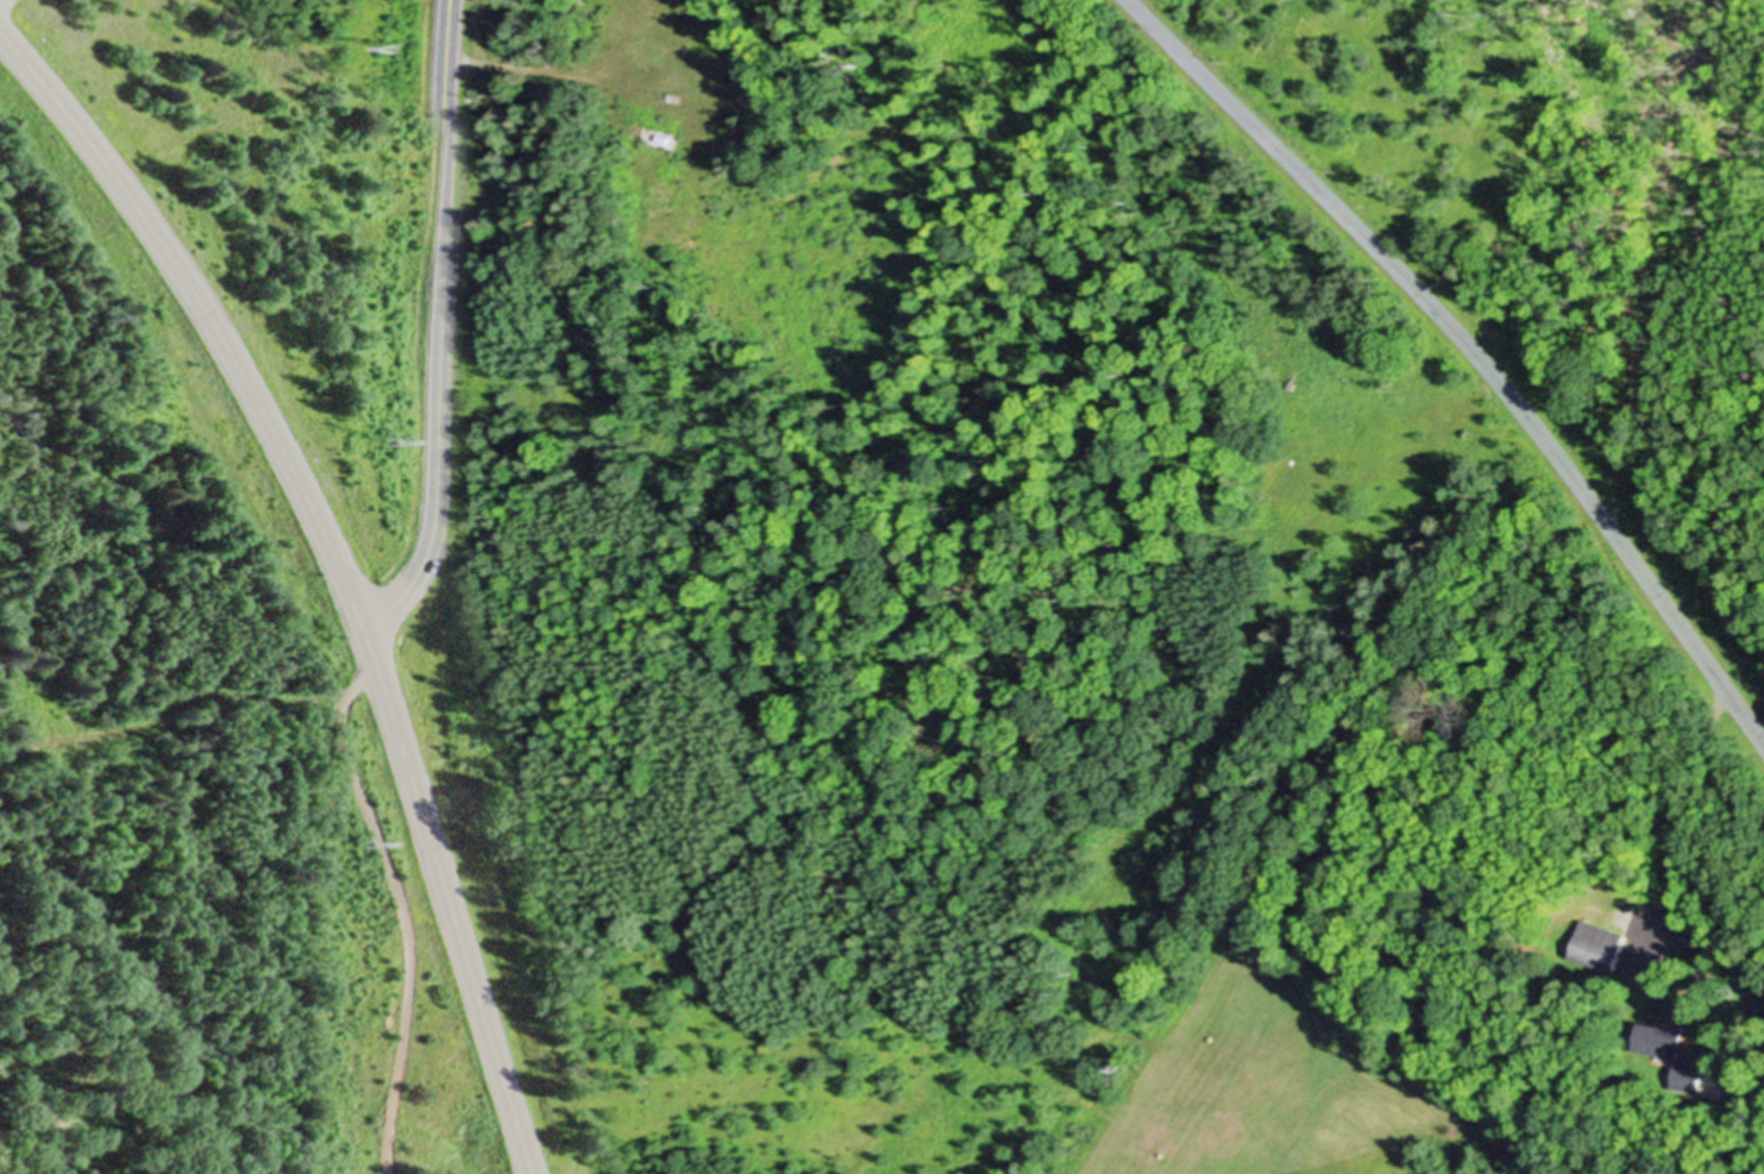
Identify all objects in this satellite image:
road: (0, 0)
building: (724, 33)
road: (525, 64)
road: (440, 326)
road: (1473, 347)
road: (333, 569)
road: (396, 896)
building: (1600, 944)
road: (1645, 949)
building: (1663, 1038)
building: (1690, 1073)

